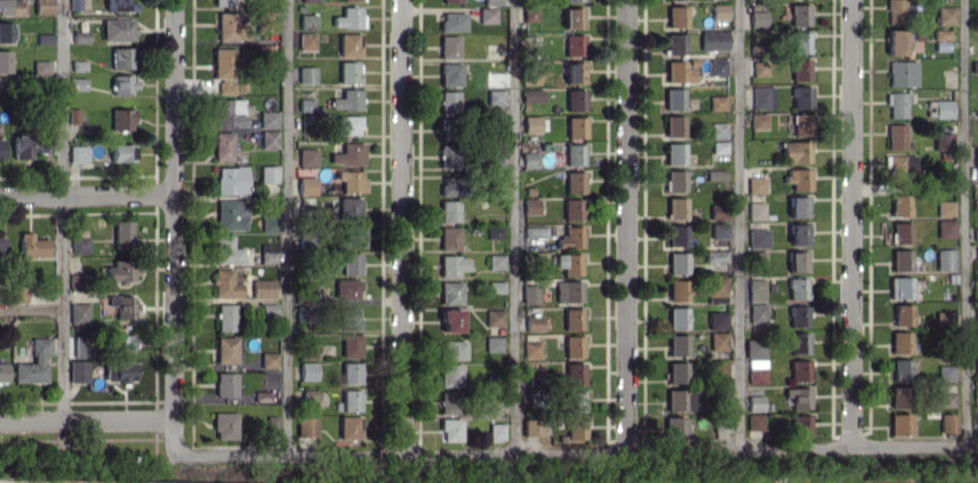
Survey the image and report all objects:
building: (308, 0)
building: (351, 0)
building: (573, 0)
building: (669, 0)
building: (450, 1)
building: (223, 2)
building: (492, 2)
building: (75, 4)
building: (120, 5)
building: (43, 6)
building: (12, 7)
building: (719, 11)
building: (894, 11)
building: (530, 13)
building: (798, 14)
building: (487, 15)
building: (945, 15)
building: (676, 16)
building: (348, 18)
building: (572, 18)
building: (757, 19)
building: (307, 21)
building: (452, 21)
building: (266, 22)
building: (225, 26)
building: (118, 29)
building: (5, 32)
building: (941, 34)
building: (80, 36)
building: (44, 38)
building: (713, 40)
building: (306, 41)
building: (799, 42)
building: (896, 42)
building: (674, 43)
building: (349, 44)
building: (573, 45)
building: (448, 47)
building: (121, 58)
building: (5, 61)
building: (79, 65)
building: (717, 66)
building: (974, 66)
building: (42, 67)
building: (759, 68)
building: (224, 69)
building: (799, 69)
building: (348, 72)
building: (574, 72)
building: (678, 72)
building: (902, 73)
building: (306, 74)
building: (449, 74)
road: (31, 80)
building: (77, 84)
building: (124, 84)
building: (531, 95)
building: (802, 96)
building: (494, 97)
building: (762, 97)
building: (673, 98)
building: (346, 100)
building: (575, 100)
building: (448, 101)
building: (717, 102)
building: (897, 104)
building: (306, 105)
building: (942, 109)
building: (227, 112)
building: (74, 116)
building: (122, 118)
building: (268, 119)
building: (758, 121)
building: (347, 124)
building: (446, 124)
building: (531, 124)
building: (800, 124)
building: (674, 125)
building: (575, 127)
building: (717, 130)
building: (896, 136)
building: (268, 139)
building: (943, 141)
building: (222, 146)
building: (25, 147)
building: (719, 147)
building: (1, 148)
building: (795, 151)
building: (121, 152)
building: (78, 153)
building: (674, 153)
building: (348, 154)
building: (574, 154)
building: (449, 156)
building: (307, 157)
building: (529, 159)
building: (495, 160)
building: (976, 162)
building: (900, 166)
building: (268, 174)
building: (715, 175)
building: (798, 178)
building: (230, 180)
building: (350, 180)
building: (675, 181)
building: (574, 182)
building: (449, 185)
building: (755, 185)
building: (305, 186)
road: (87, 193)
building: (900, 205)
building: (530, 206)
building: (798, 206)
building: (348, 208)
building: (676, 208)
building: (945, 208)
building: (572, 209)
road: (63, 210)
building: (755, 210)
building: (448, 211)
building: (718, 211)
building: (230, 214)
building: (269, 222)
road: (850, 222)
road: (964, 222)
road: (738, 224)
road: (625, 225)
road: (514, 226)
road: (401, 227)
road: (168, 228)
road: (285, 228)
building: (945, 228)
building: (719, 230)
building: (534, 231)
building: (493, 232)
building: (901, 232)
building: (798, 233)
building: (122, 234)
building: (975, 234)
building: (676, 235)
building: (354, 236)
building: (570, 237)
building: (448, 238)
building: (757, 238)
building: (80, 243)
building: (1, 244)
building: (32, 246)
building: (225, 250)
building: (976, 252)
building: (268, 253)
building: (715, 256)
building: (756, 258)
building: (944, 259)
building: (900, 260)
building: (496, 261)
building: (797, 261)
building: (678, 262)
building: (350, 263)
building: (569, 263)
building: (451, 265)
building: (120, 271)
building: (75, 281)
building: (225, 284)
building: (495, 286)
building: (900, 287)
building: (262, 288)
building: (346, 288)
building: (797, 288)
building: (678, 290)
building: (716, 290)
building: (756, 290)
building: (18, 291)
building: (568, 291)
building: (449, 292)
building: (529, 293)
building: (123, 305)
road: (31, 309)
building: (268, 311)
building: (78, 313)
building: (757, 313)
building: (902, 314)
building: (797, 315)
building: (226, 317)
building: (494, 317)
building: (677, 317)
building: (943, 317)
building: (348, 318)
building: (572, 318)
building: (450, 320)
building: (716, 320)
building: (533, 322)
building: (976, 335)
building: (718, 341)
building: (121, 342)
building: (900, 342)
building: (799, 343)
building: (492, 344)
building: (350, 345)
building: (678, 345)
building: (82, 346)
building: (573, 346)
building: (754, 348)
building: (225, 349)
building: (452, 349)
building: (531, 349)
building: (268, 359)
building: (34, 362)
building: (976, 363)
building: (719, 369)
building: (901, 369)
building: (3, 370)
building: (799, 370)
building: (78, 371)
building: (307, 371)
building: (756, 371)
building: (119, 372)
building: (350, 372)
building: (677, 372)
building: (946, 372)
building: (574, 373)
building: (449, 375)
building: (226, 384)
building: (308, 394)
building: (262, 396)
building: (898, 396)
building: (798, 397)
building: (946, 399)
building: (350, 400)
building: (682, 400)
building: (575, 401)
building: (449, 402)
building: (755, 403)
building: (486, 406)
road: (88, 420)
building: (754, 421)
building: (721, 422)
building: (948, 423)
building: (977, 423)
building: (899, 424)
building: (224, 425)
building: (800, 425)
building: (272, 426)
building: (306, 426)
building: (348, 427)
building: (531, 427)
building: (673, 427)
building: (450, 429)
building: (496, 431)
building: (575, 431)
road: (577, 451)

